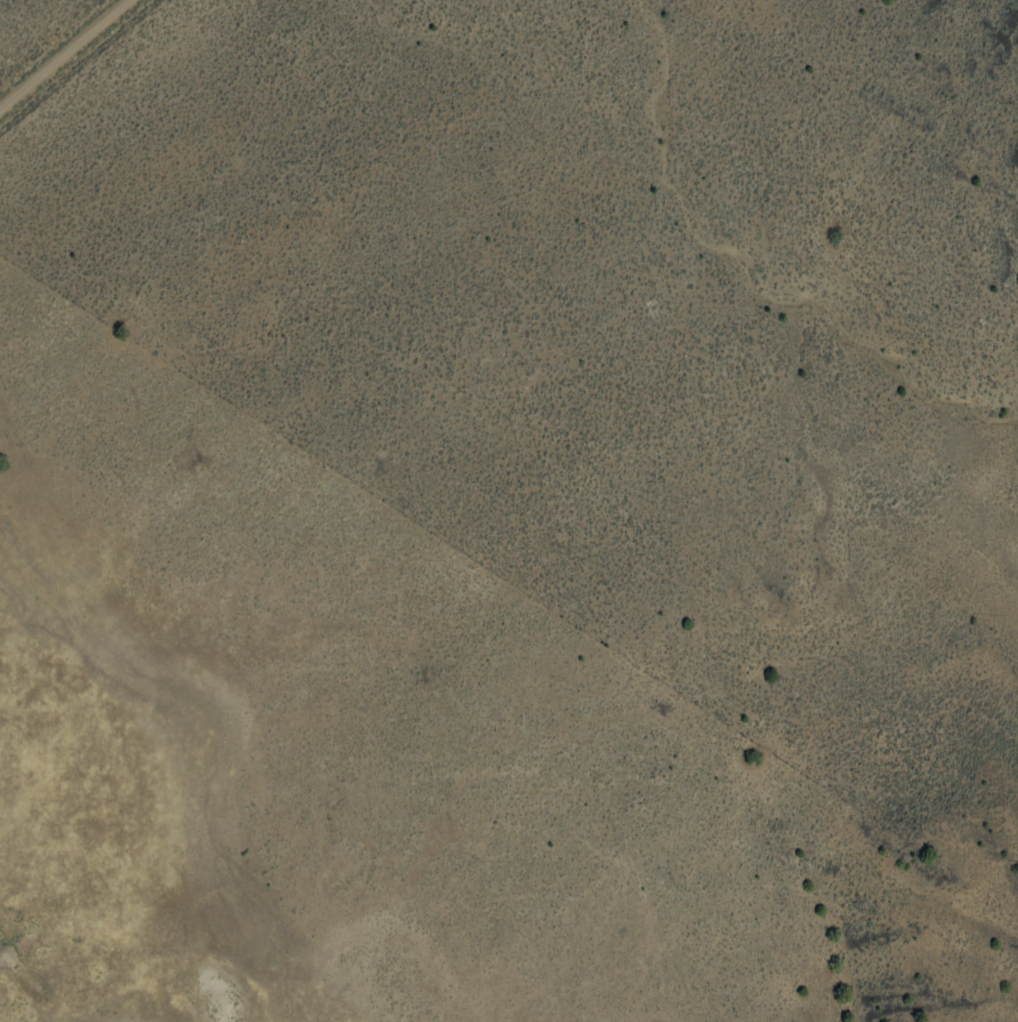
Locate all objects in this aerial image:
road: (65, 54)

